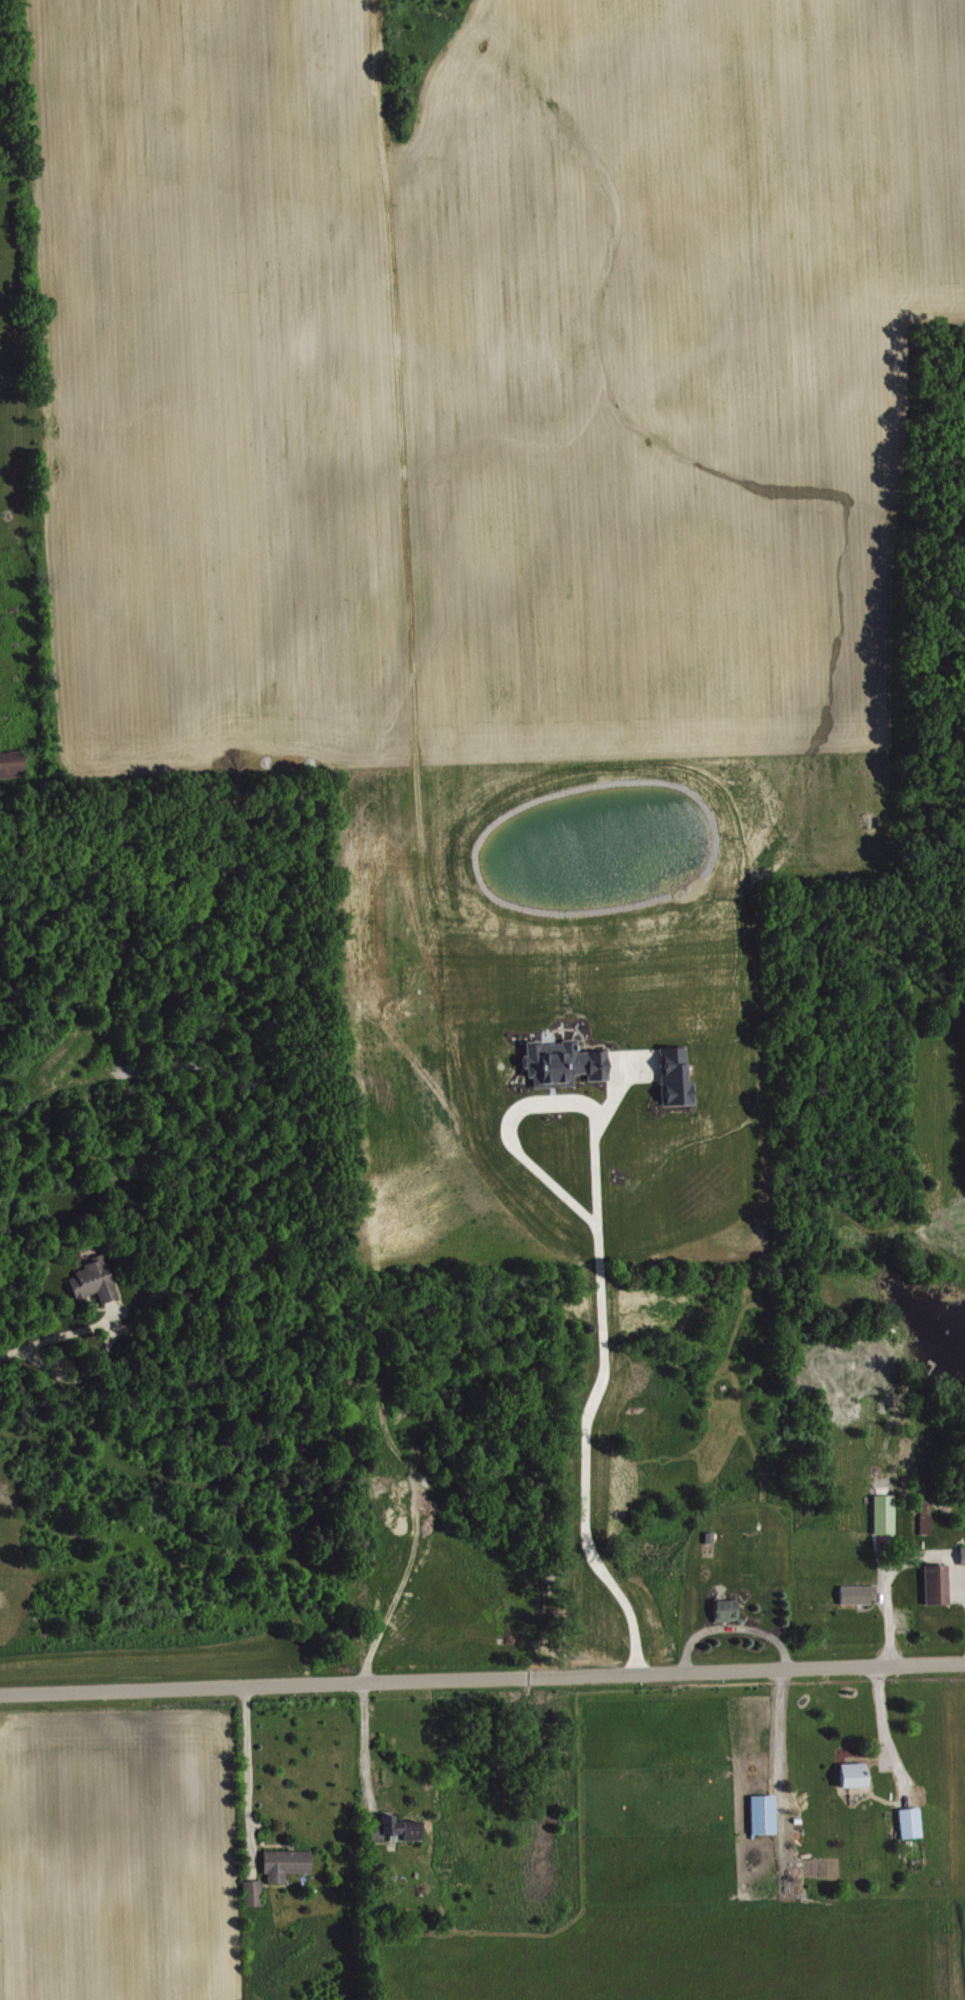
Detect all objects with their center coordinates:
building: (13, 764)
building: (565, 1063)
building: (677, 1076)
building: (96, 1280)
road: (55, 1338)
road: (596, 1406)
building: (886, 1514)
building: (964, 1554)
building: (939, 1584)
road: (398, 1590)
building: (859, 1594)
building: (728, 1610)
road: (730, 1625)
road: (482, 1678)
road: (775, 1728)
road: (882, 1732)
road: (363, 1745)
road: (246, 1763)
building: (855, 1775)
building: (765, 1814)
building: (913, 1823)
building: (399, 1829)
building: (288, 1864)
building: (255, 1893)

